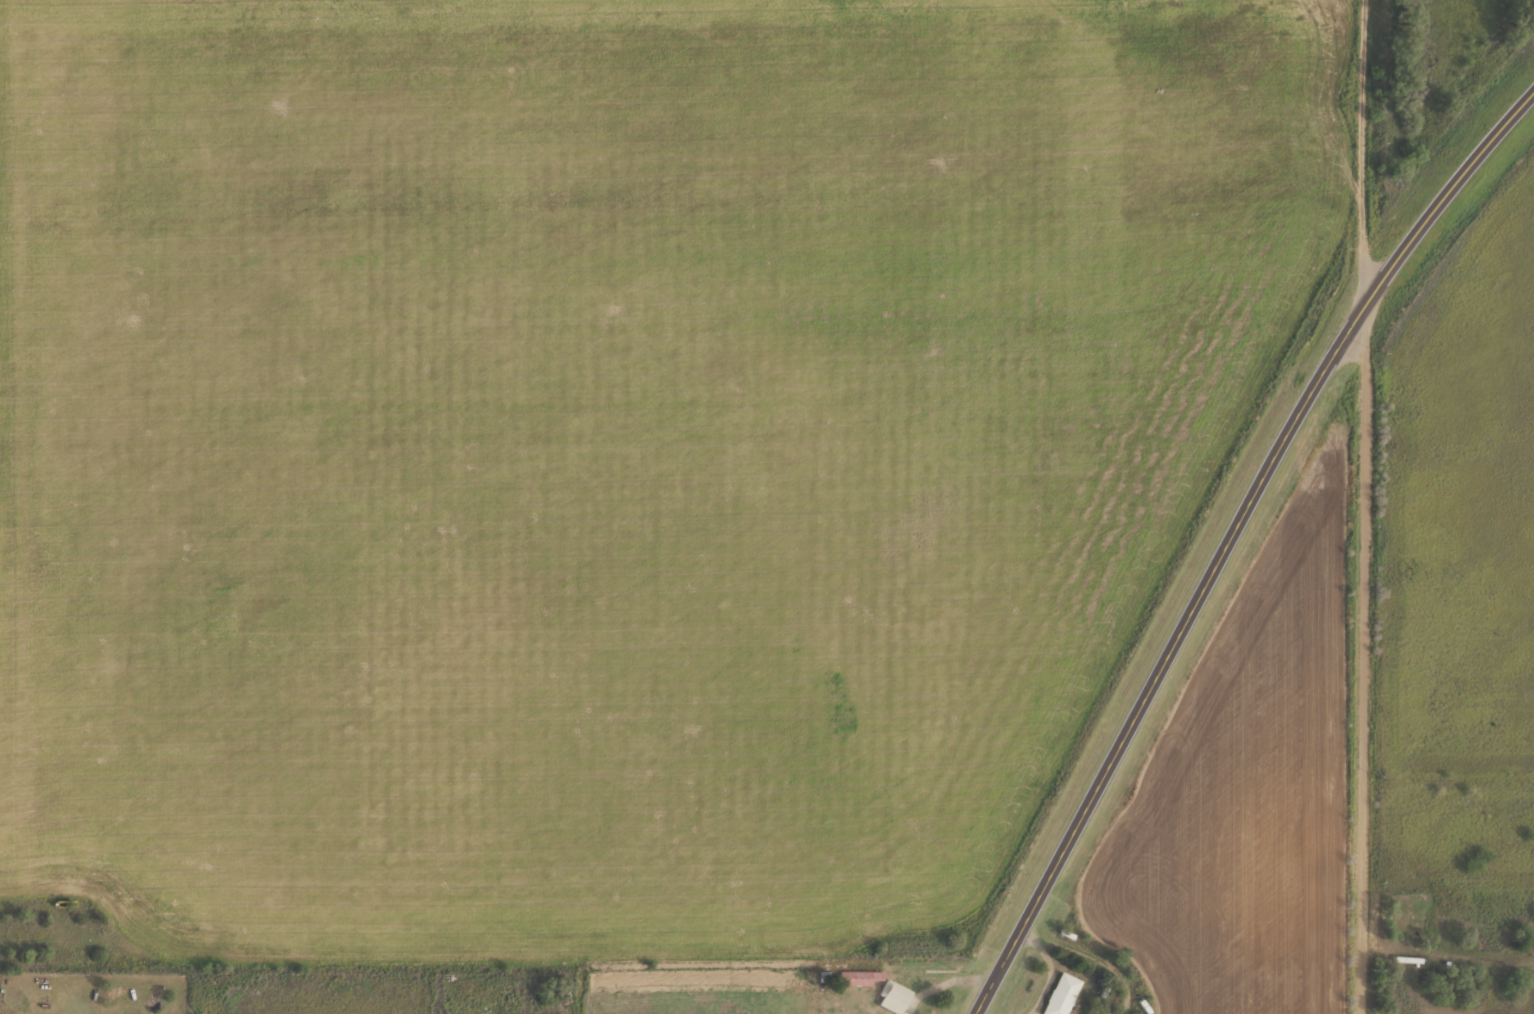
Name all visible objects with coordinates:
road: (1362, 151)
road: (1285, 436)
road: (1364, 658)
road: (1032, 914)
road: (1447, 948)
building: (1060, 994)
building: (893, 996)

